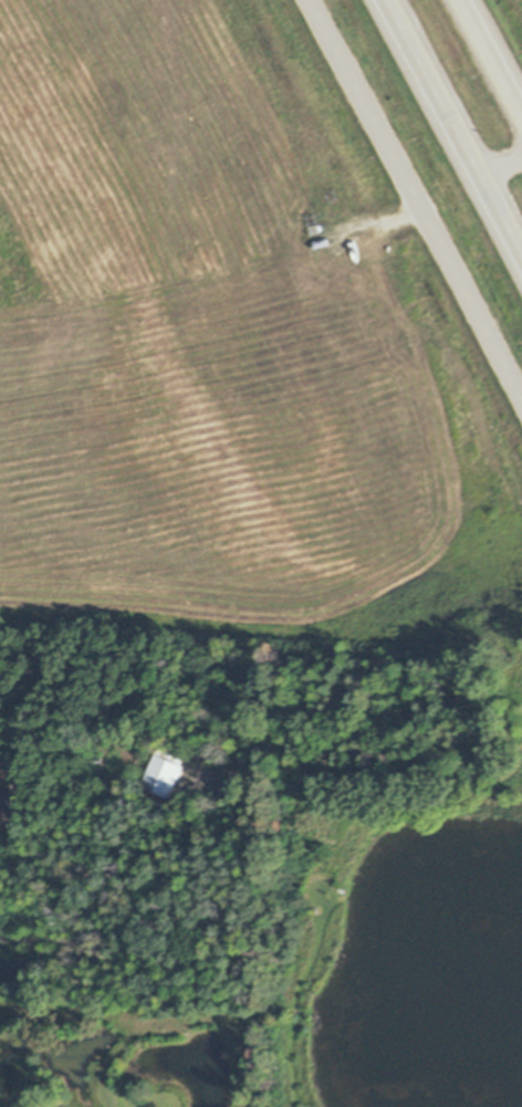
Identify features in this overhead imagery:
road: (490, 58)
road: (453, 126)
road: (415, 197)
building: (101, 734)
building: (115, 738)
building: (205, 751)
building: (166, 767)
building: (236, 769)
building: (7, 776)
building: (232, 785)
building: (7, 797)
building: (152, 803)
road: (118, 899)

